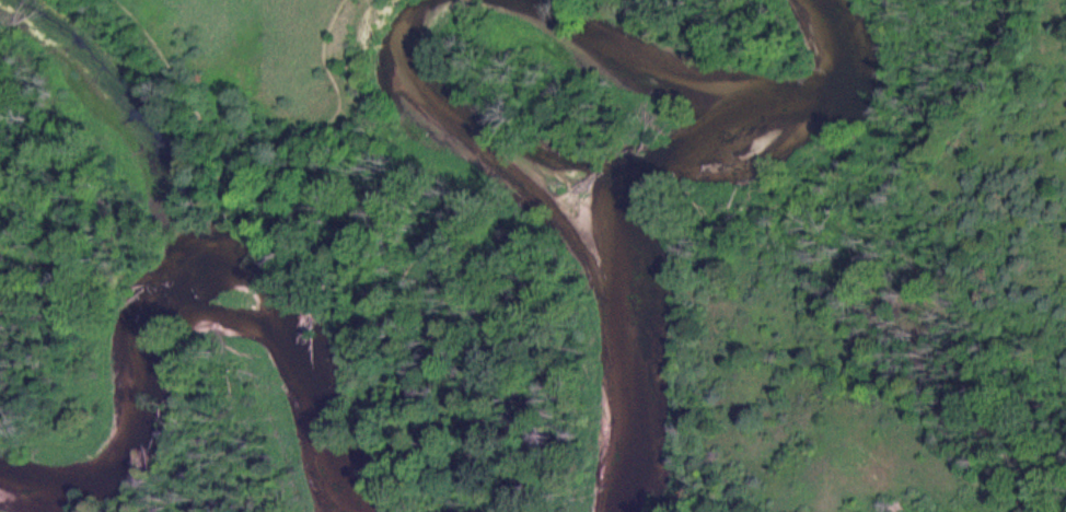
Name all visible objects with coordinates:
river: (730, 105)
road: (264, 150)
river: (588, 195)
park: (533, 256)
river: (195, 291)

